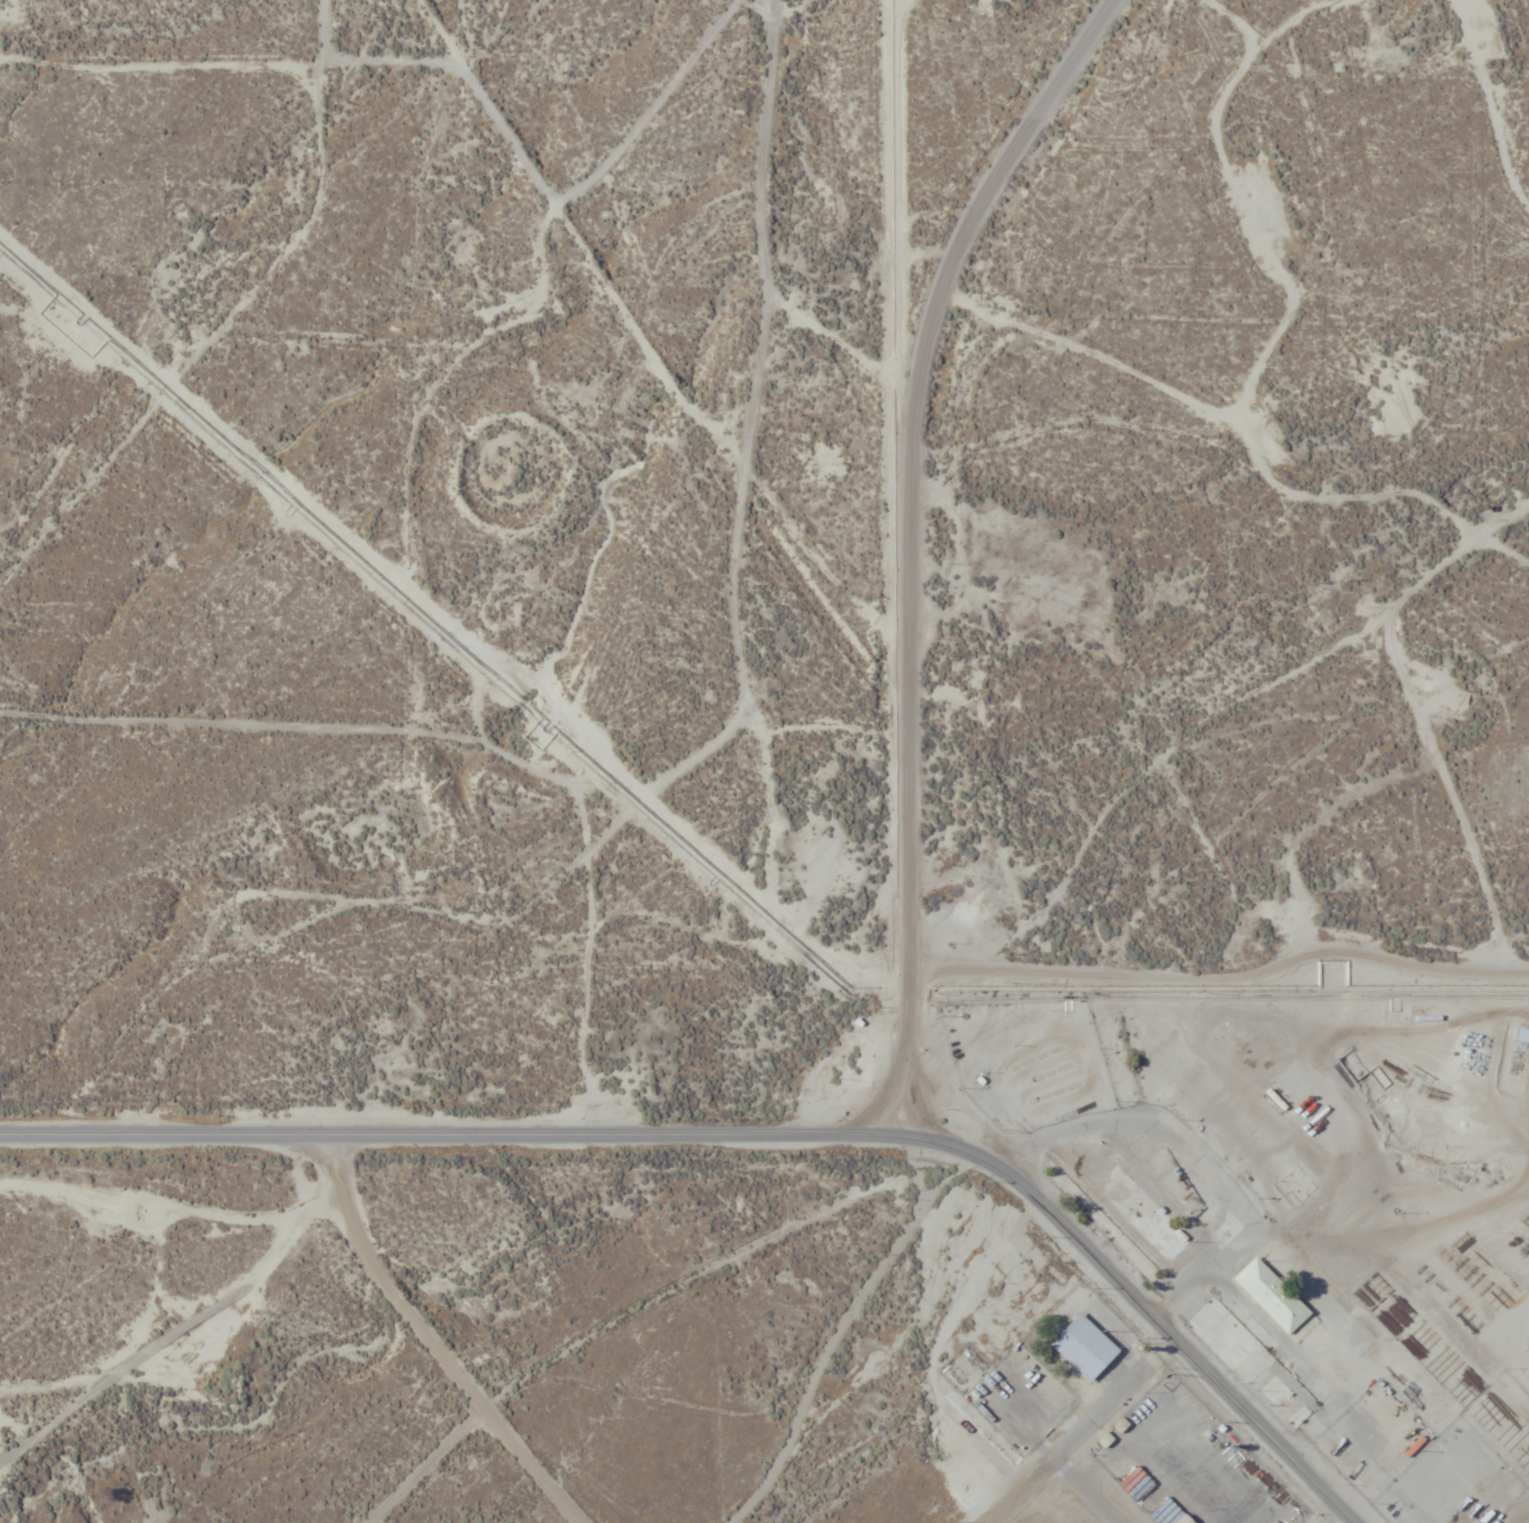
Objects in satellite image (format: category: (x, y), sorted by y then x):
road: (1009, 175)
road: (1140, 424)
road: (982, 706)
road: (722, 738)
road: (1236, 893)
road: (1189, 996)
building: (1520, 1035)
building: (1276, 1098)
road: (755, 1136)
building: (1270, 1296)
building: (1085, 1347)
road: (1064, 1453)
building: (1491, 1522)

